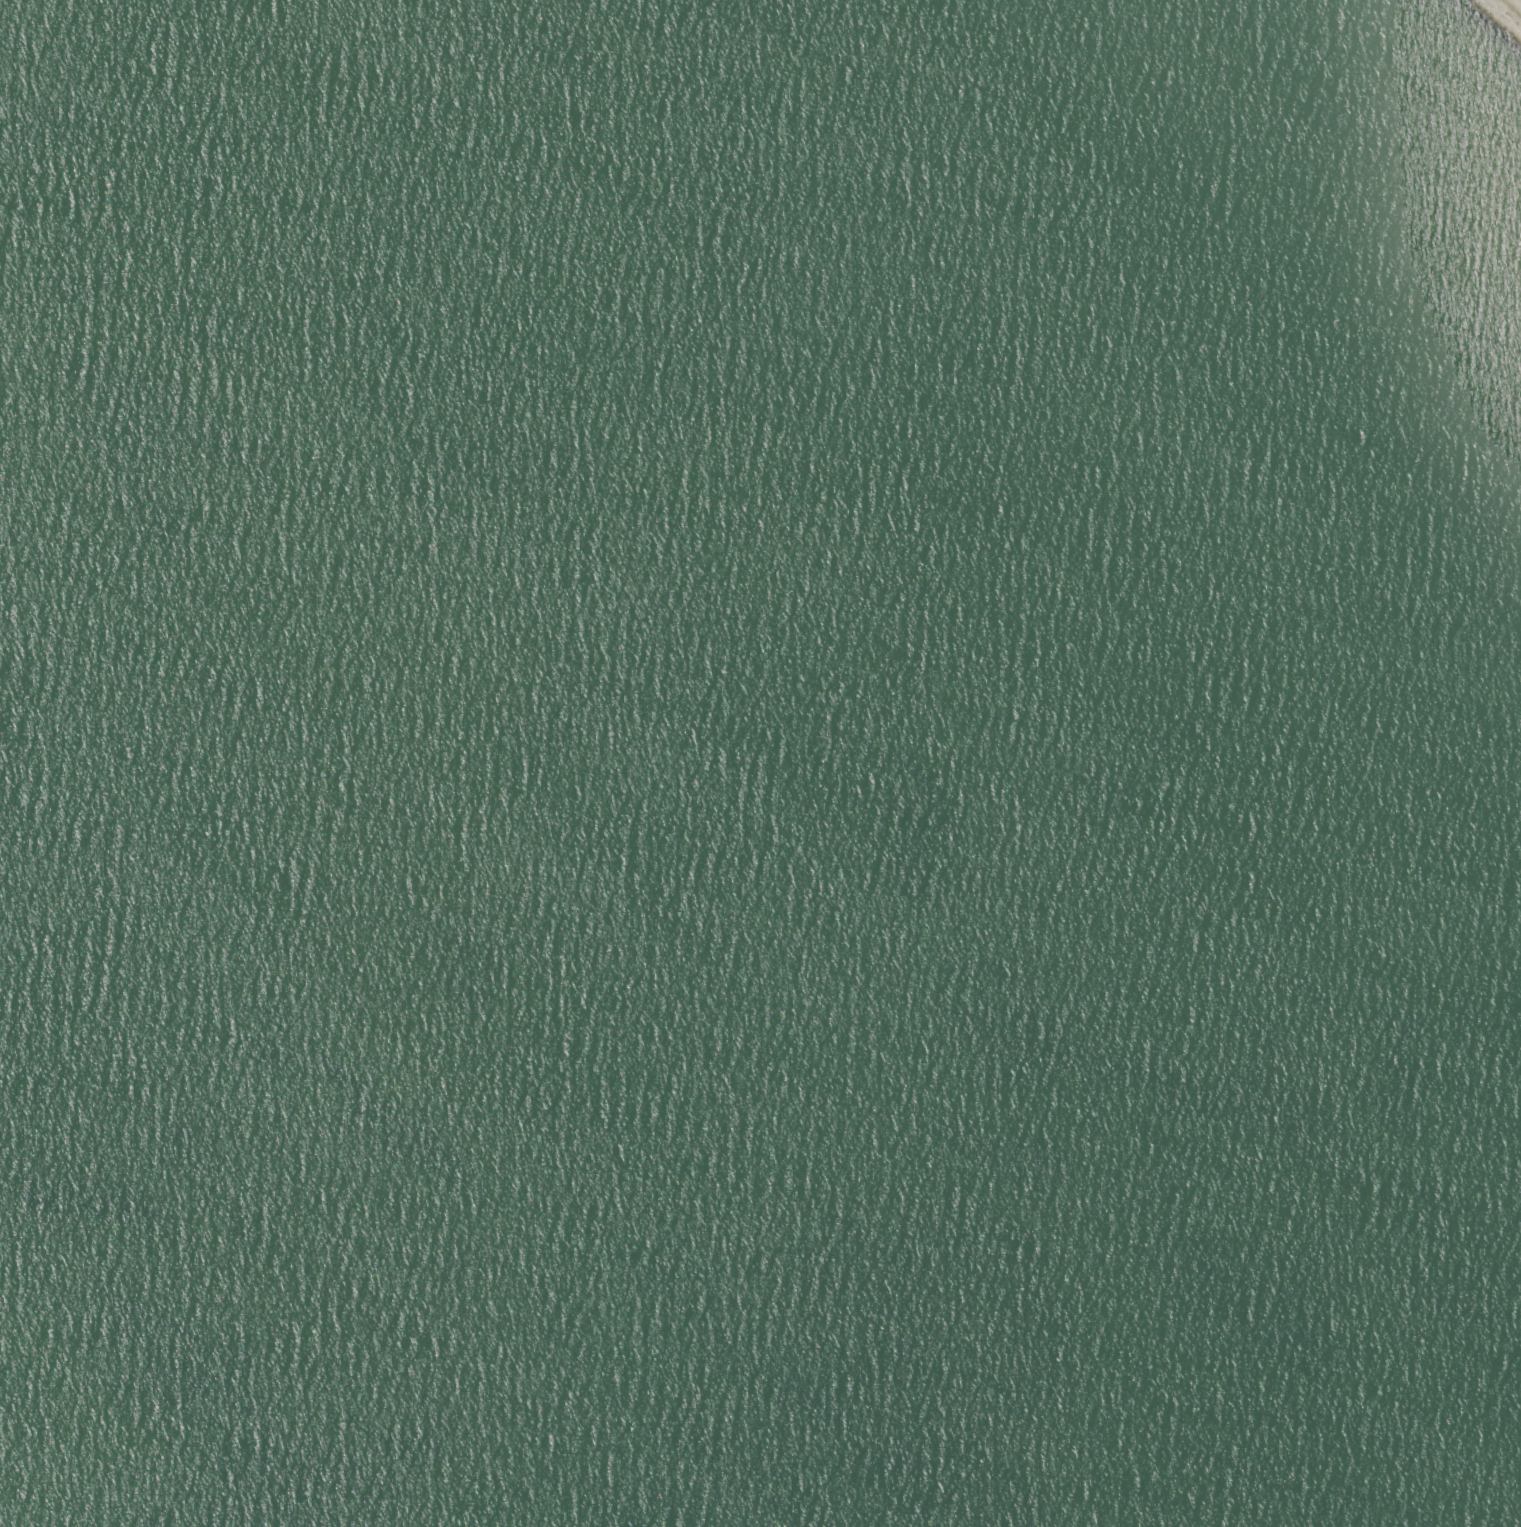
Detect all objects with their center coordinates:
airport: (1506, 12)

